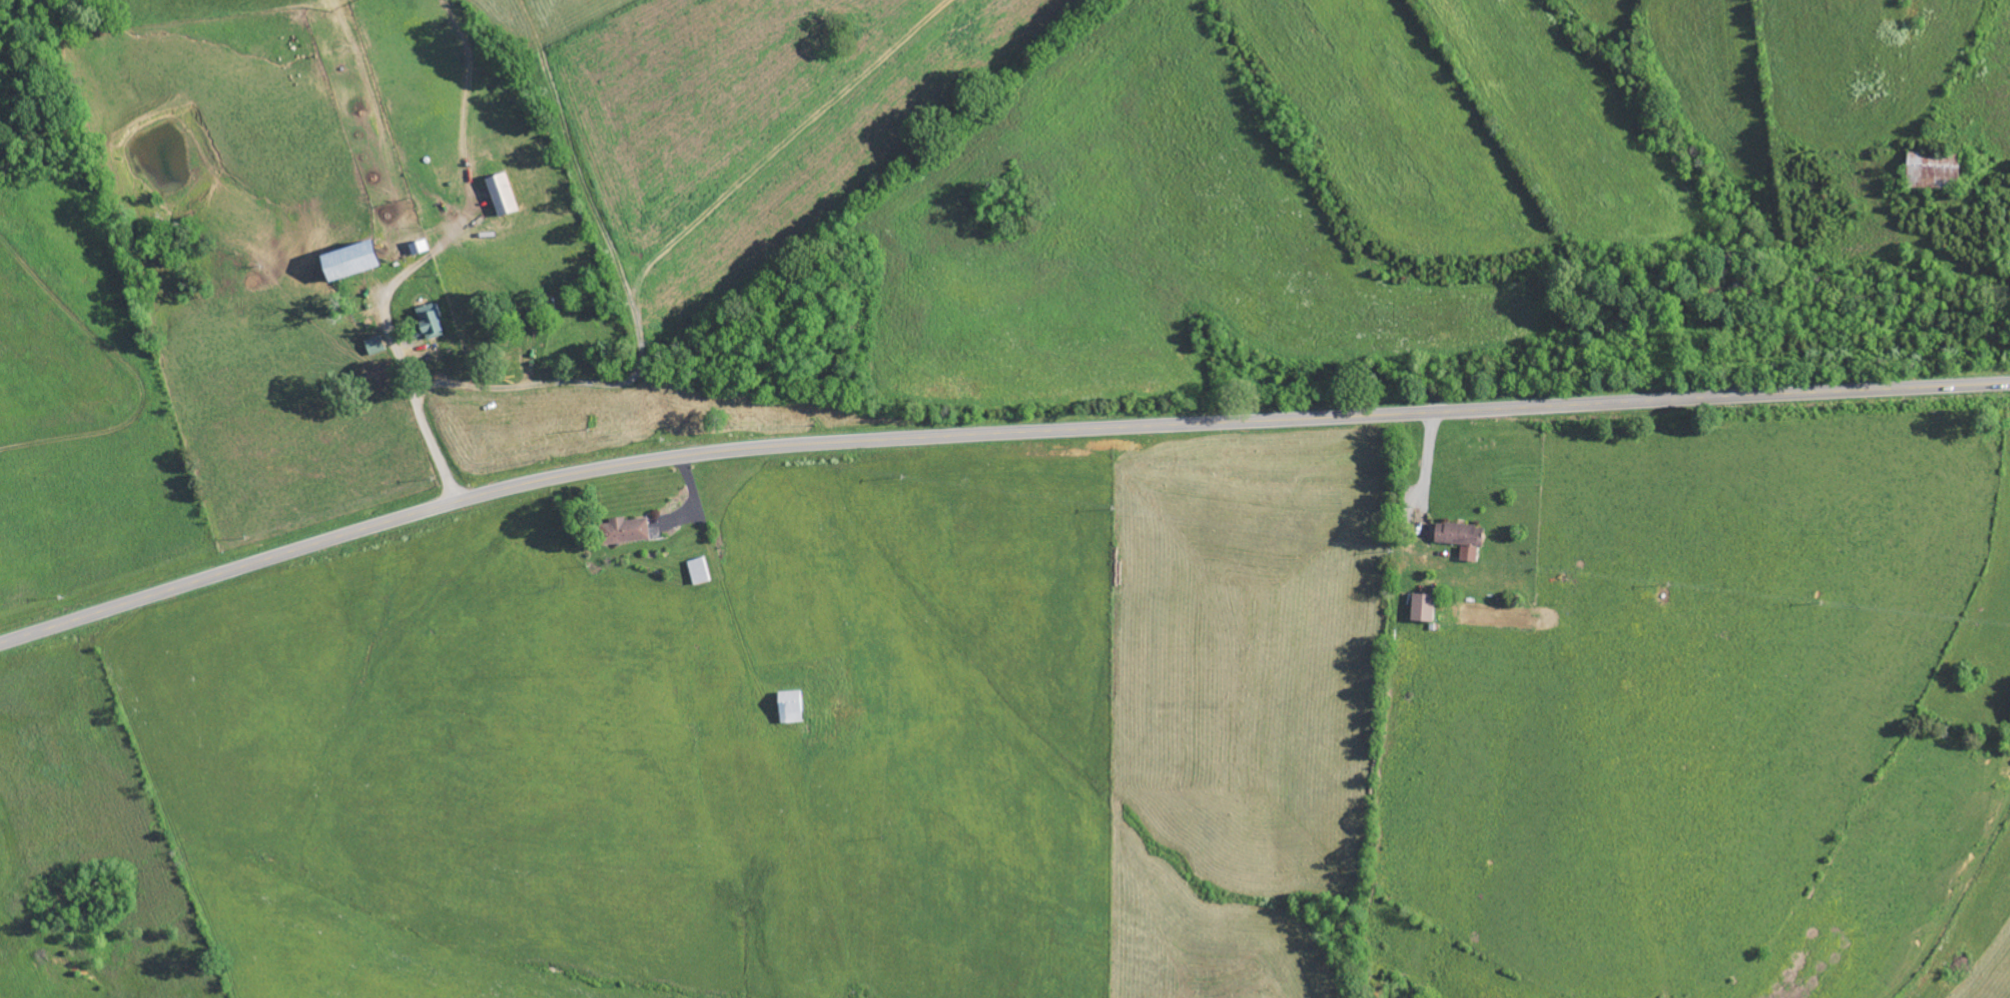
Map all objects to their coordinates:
building: (1937, 170)
building: (502, 194)
building: (419, 246)
building: (353, 260)
building: (431, 320)
building: (375, 344)
road: (992, 436)
building: (626, 530)
building: (1460, 533)
building: (1470, 553)
building: (699, 571)
building: (1424, 607)
building: (792, 707)

